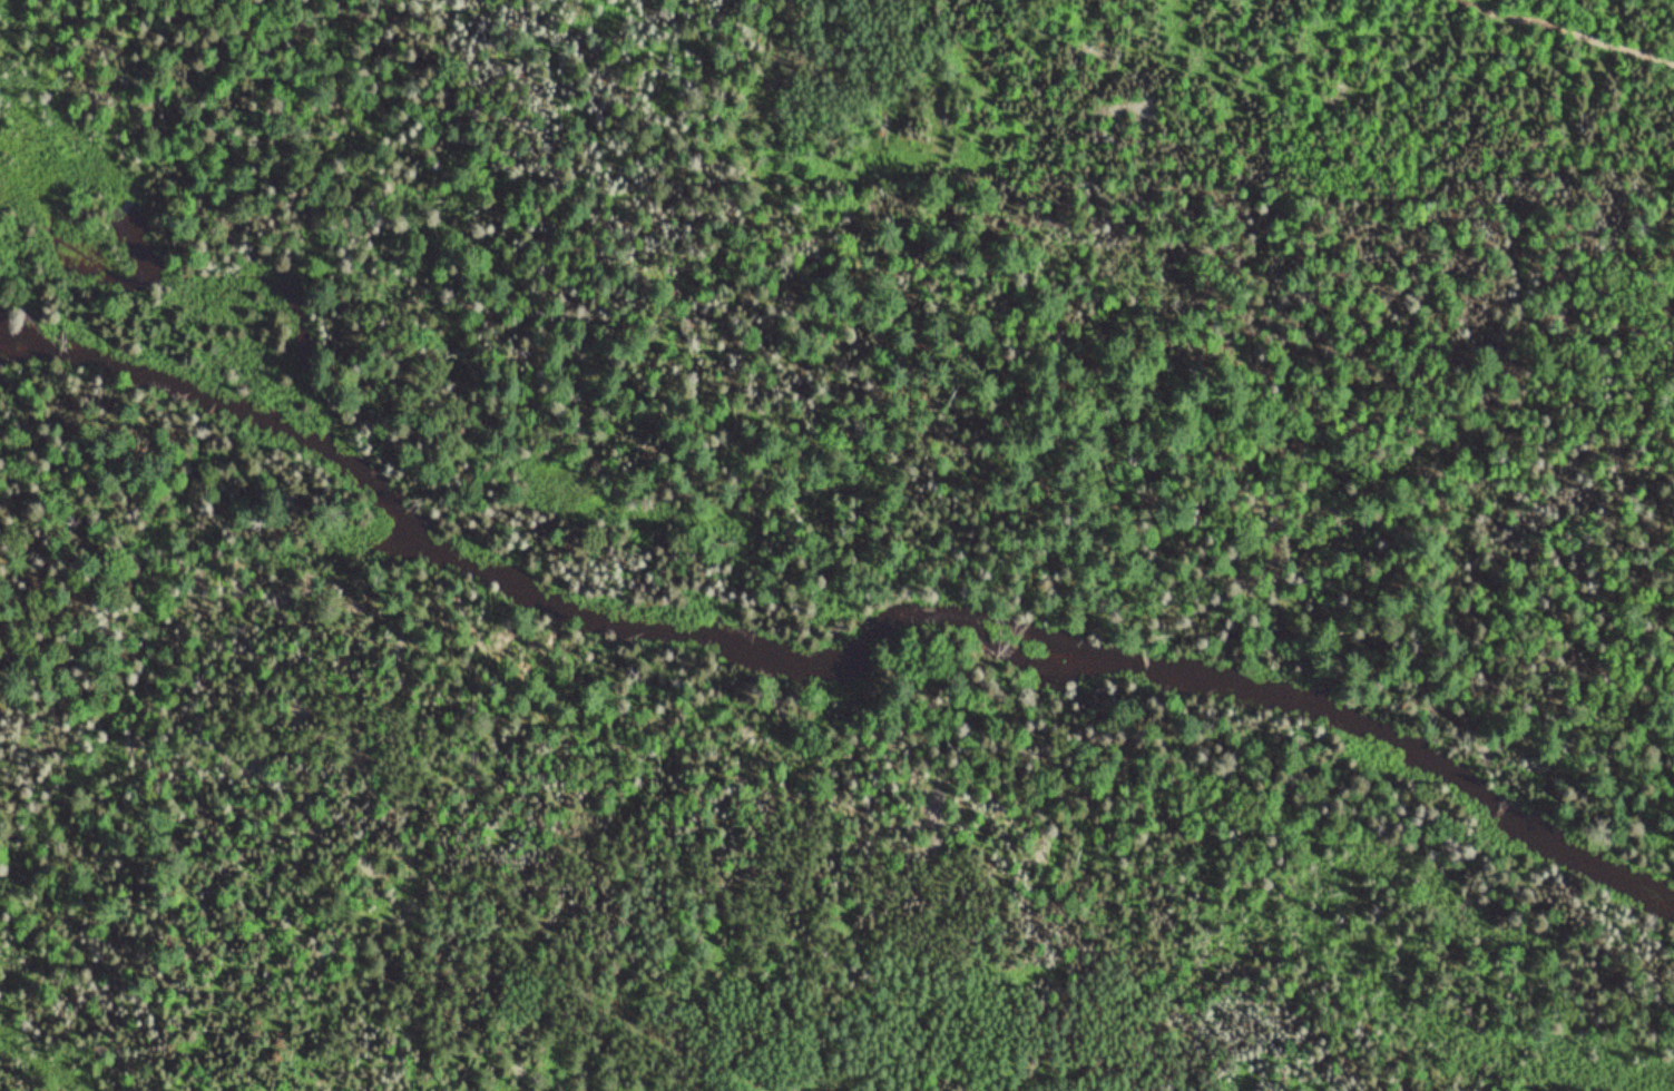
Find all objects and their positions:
road: (1133, 283)
river: (836, 636)

